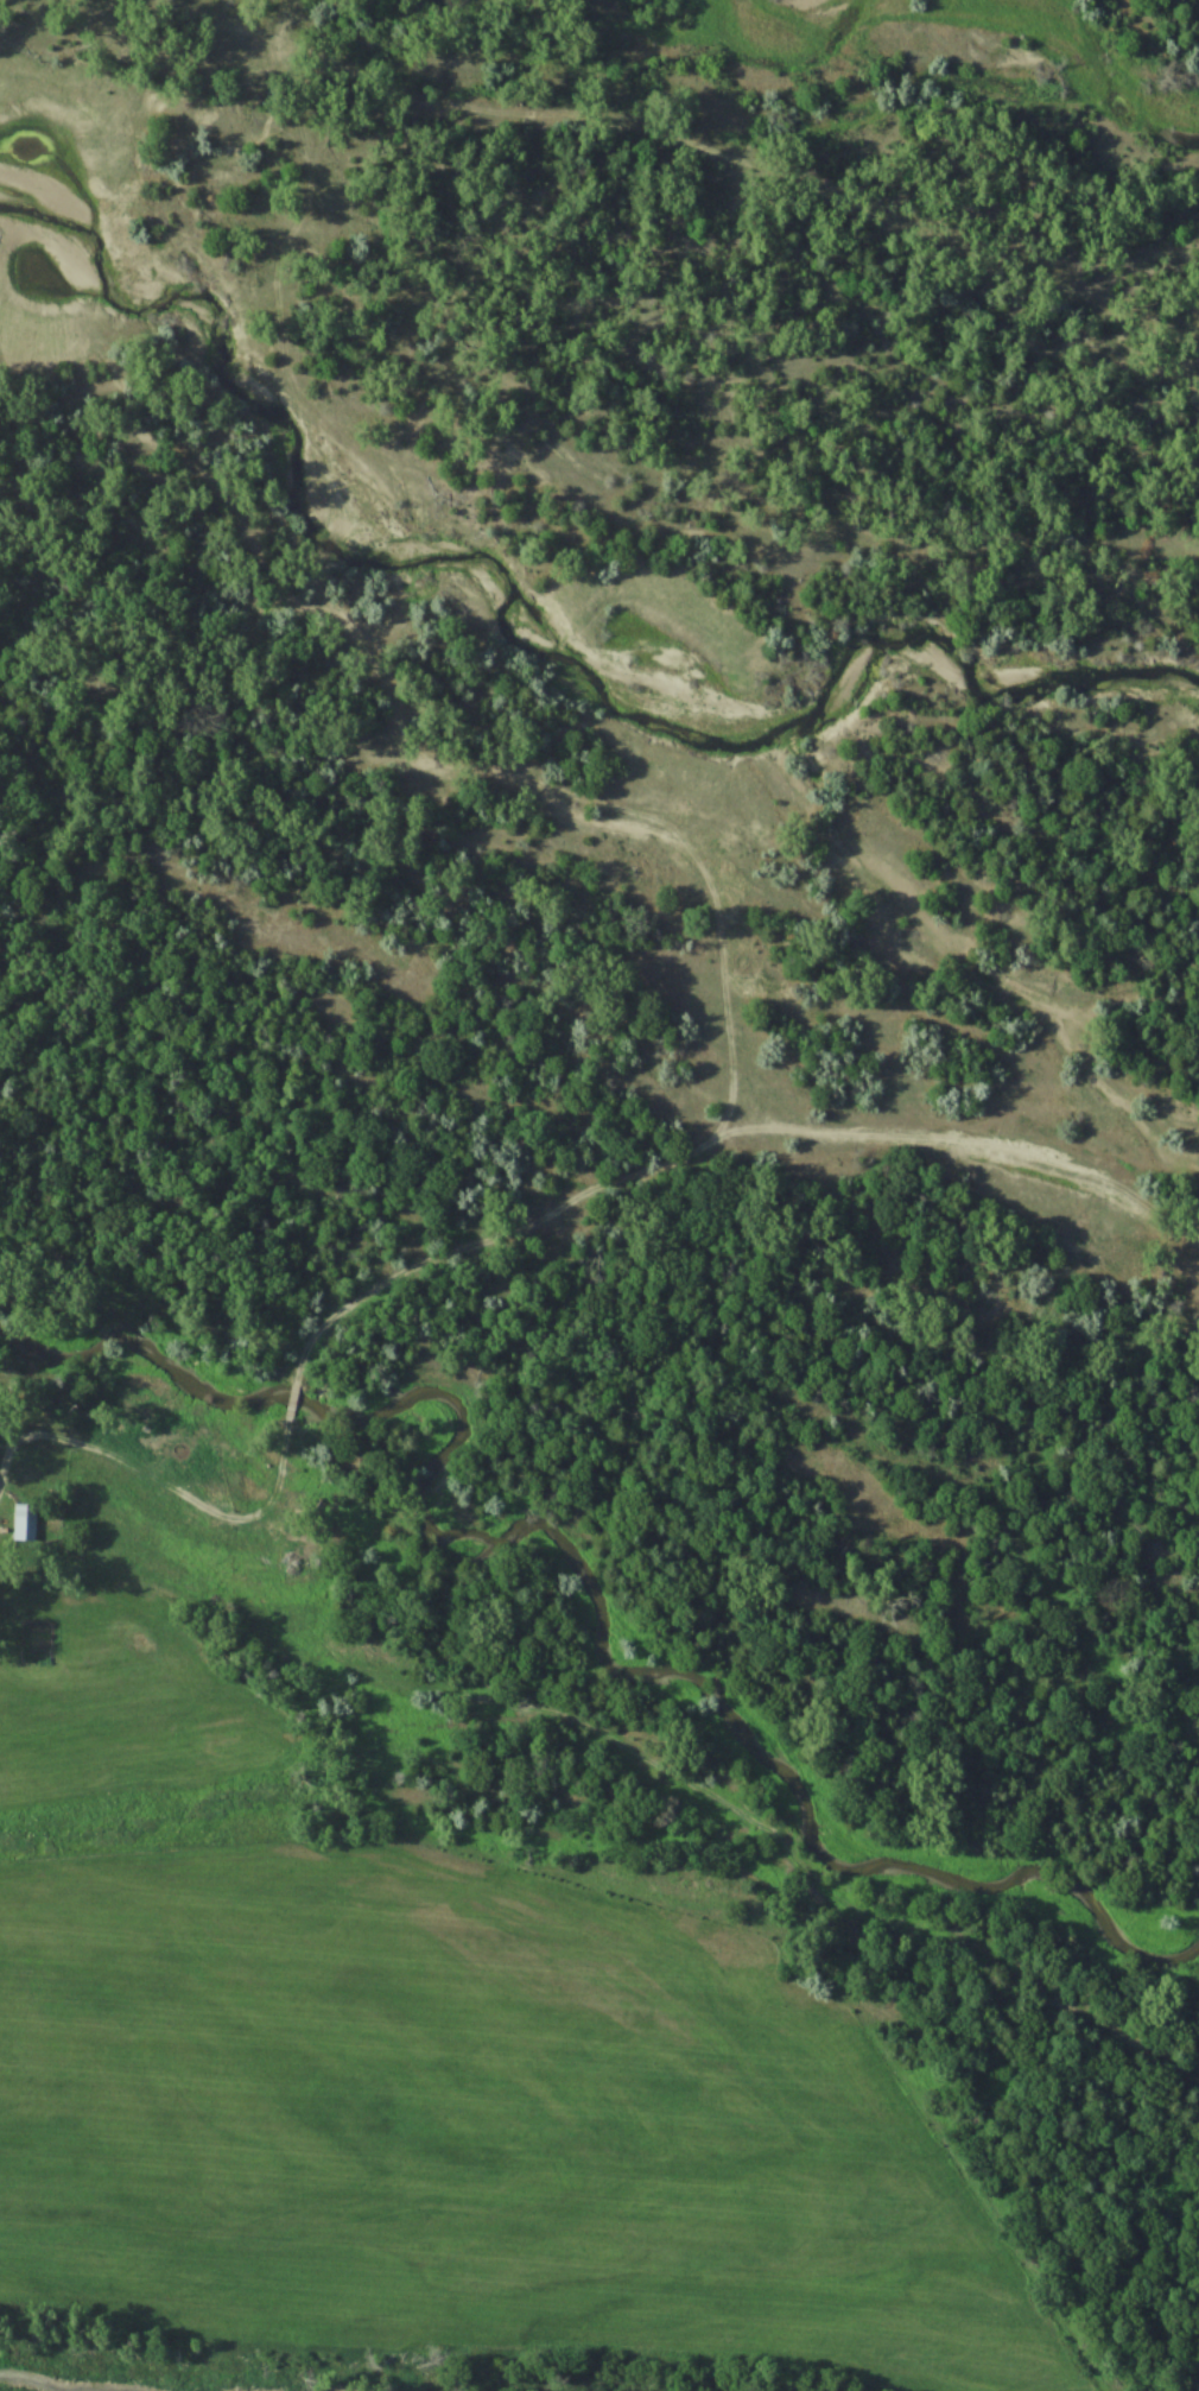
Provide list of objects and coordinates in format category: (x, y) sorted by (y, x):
building: (26, 1524)

